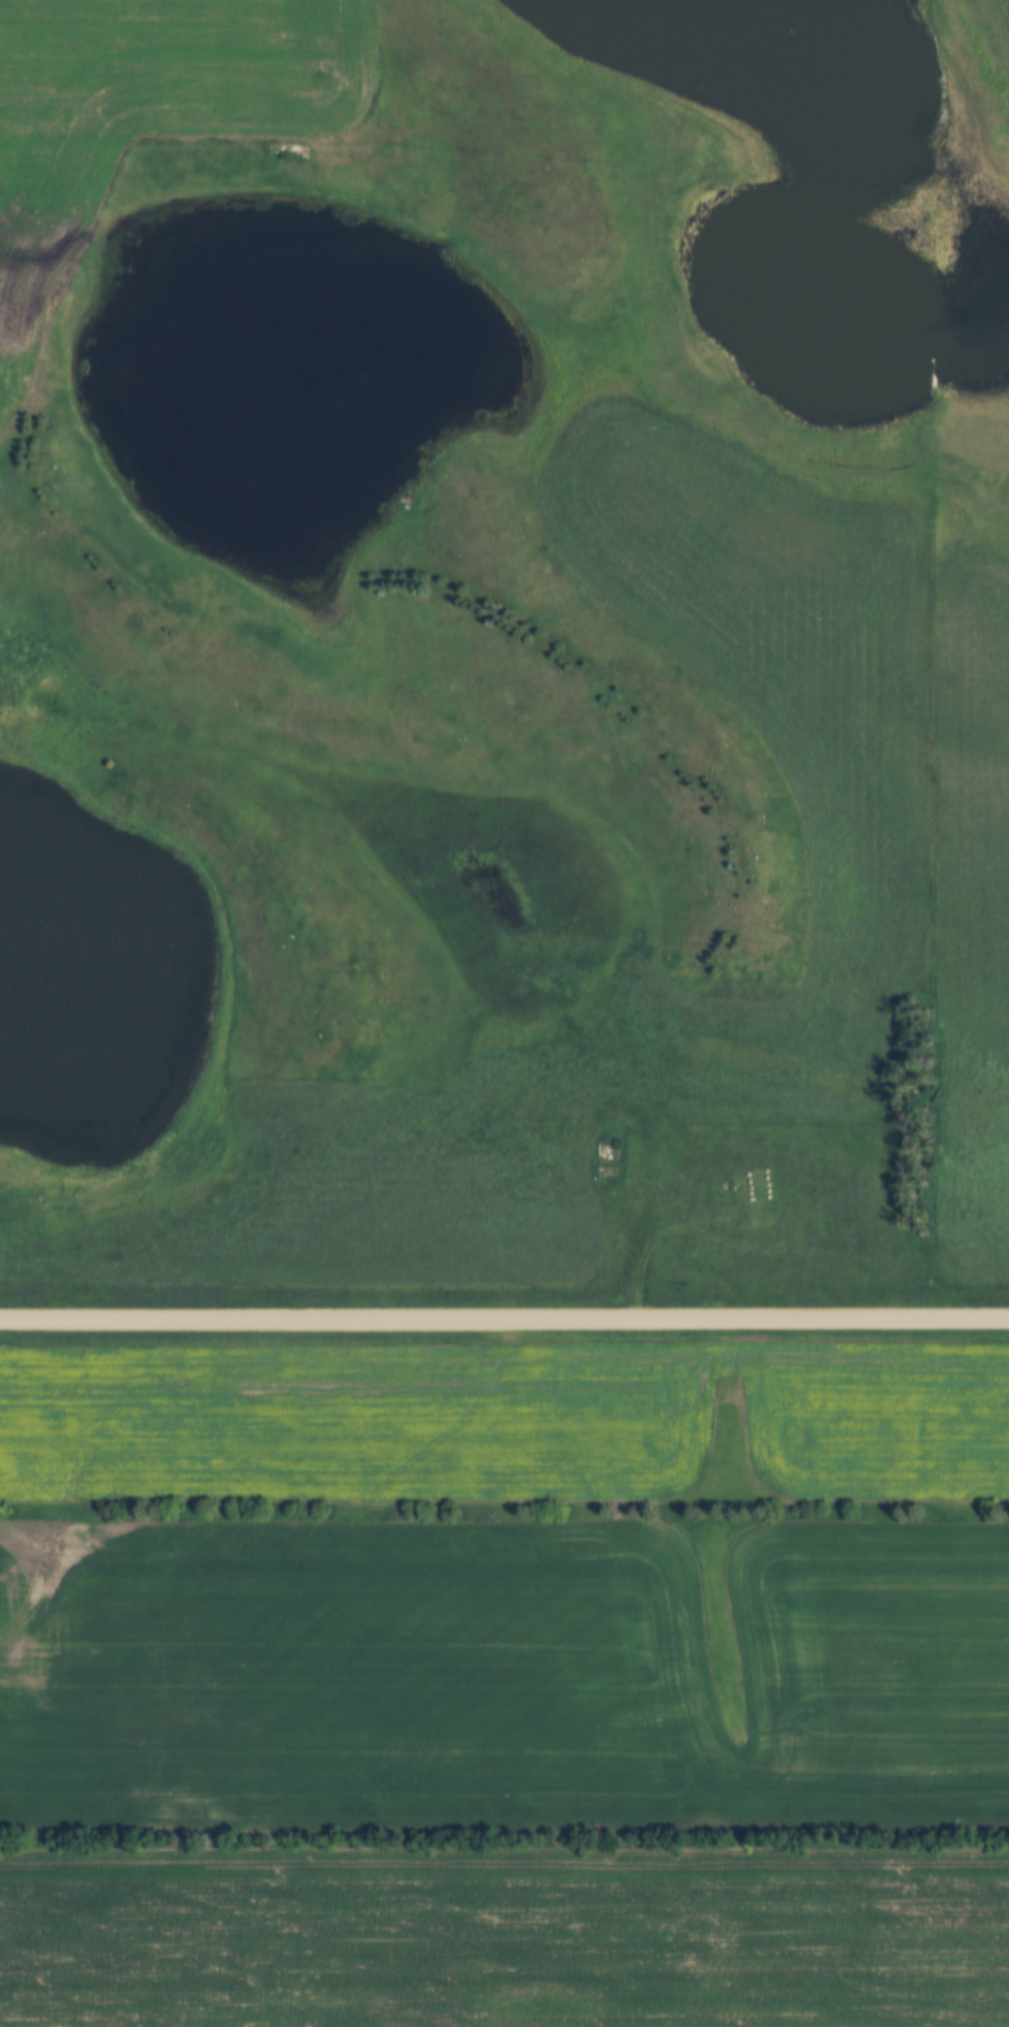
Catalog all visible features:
road: (700, 1280)
road: (504, 1320)

